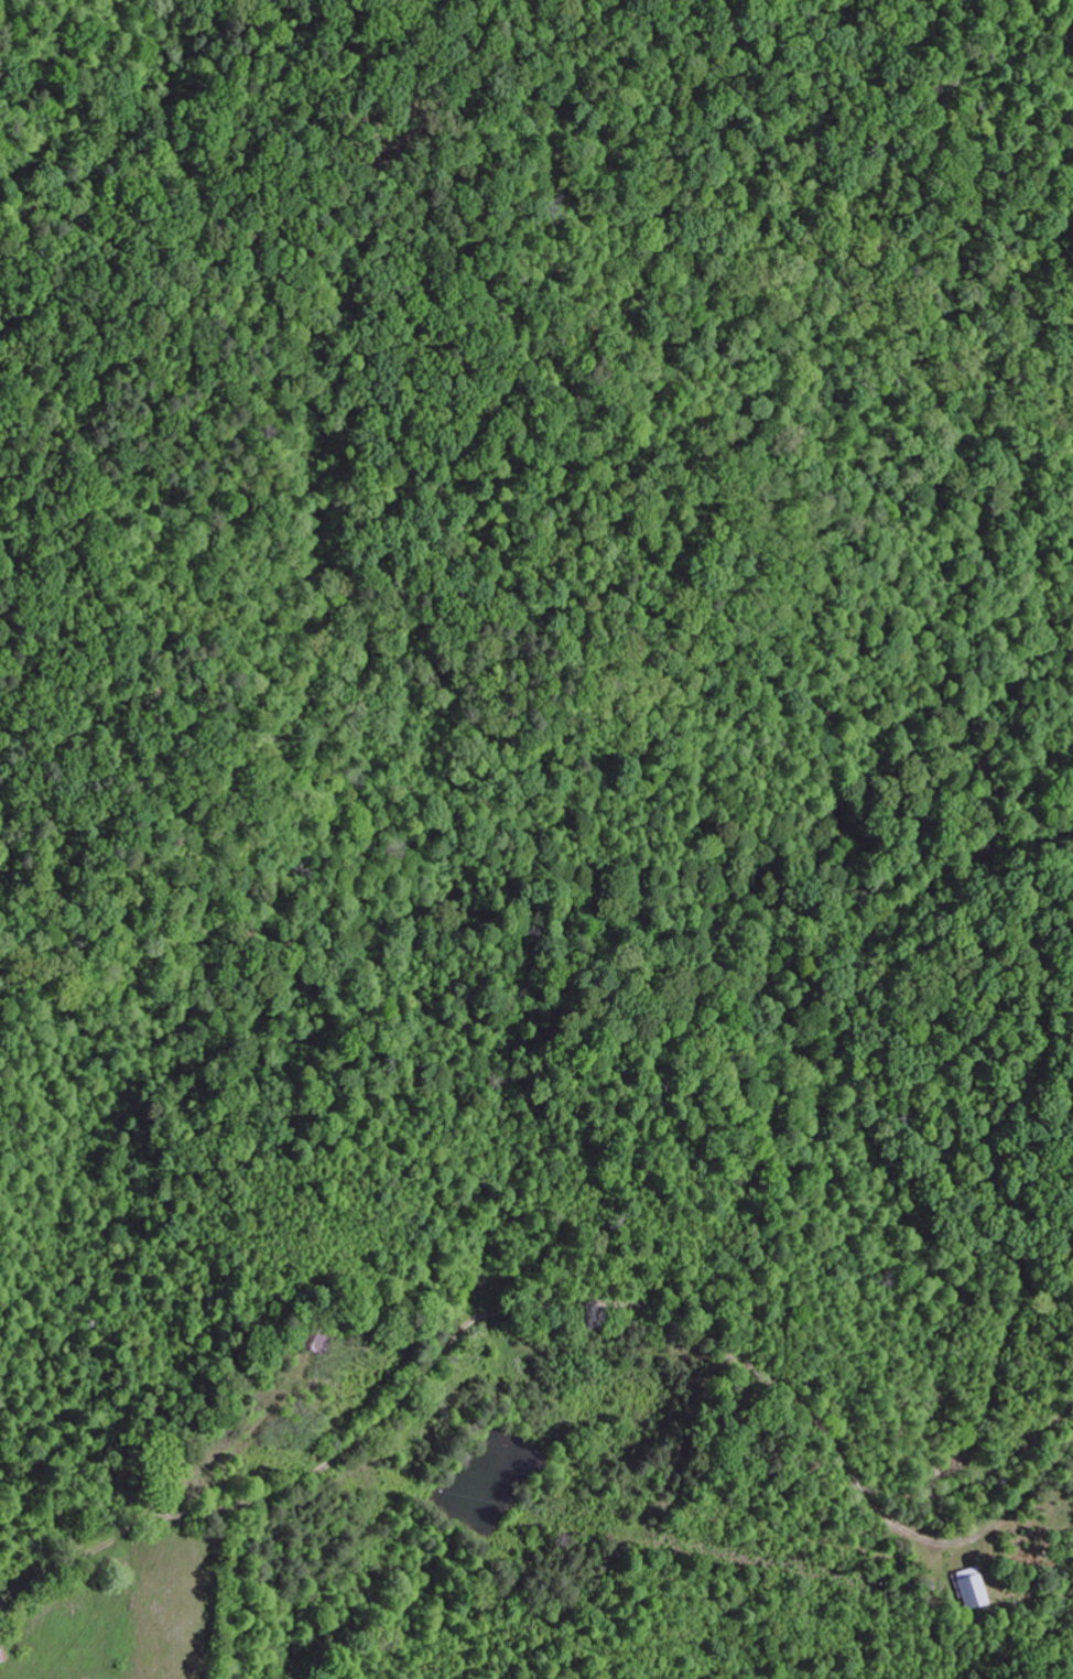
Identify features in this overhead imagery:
building: (969, 1590)

